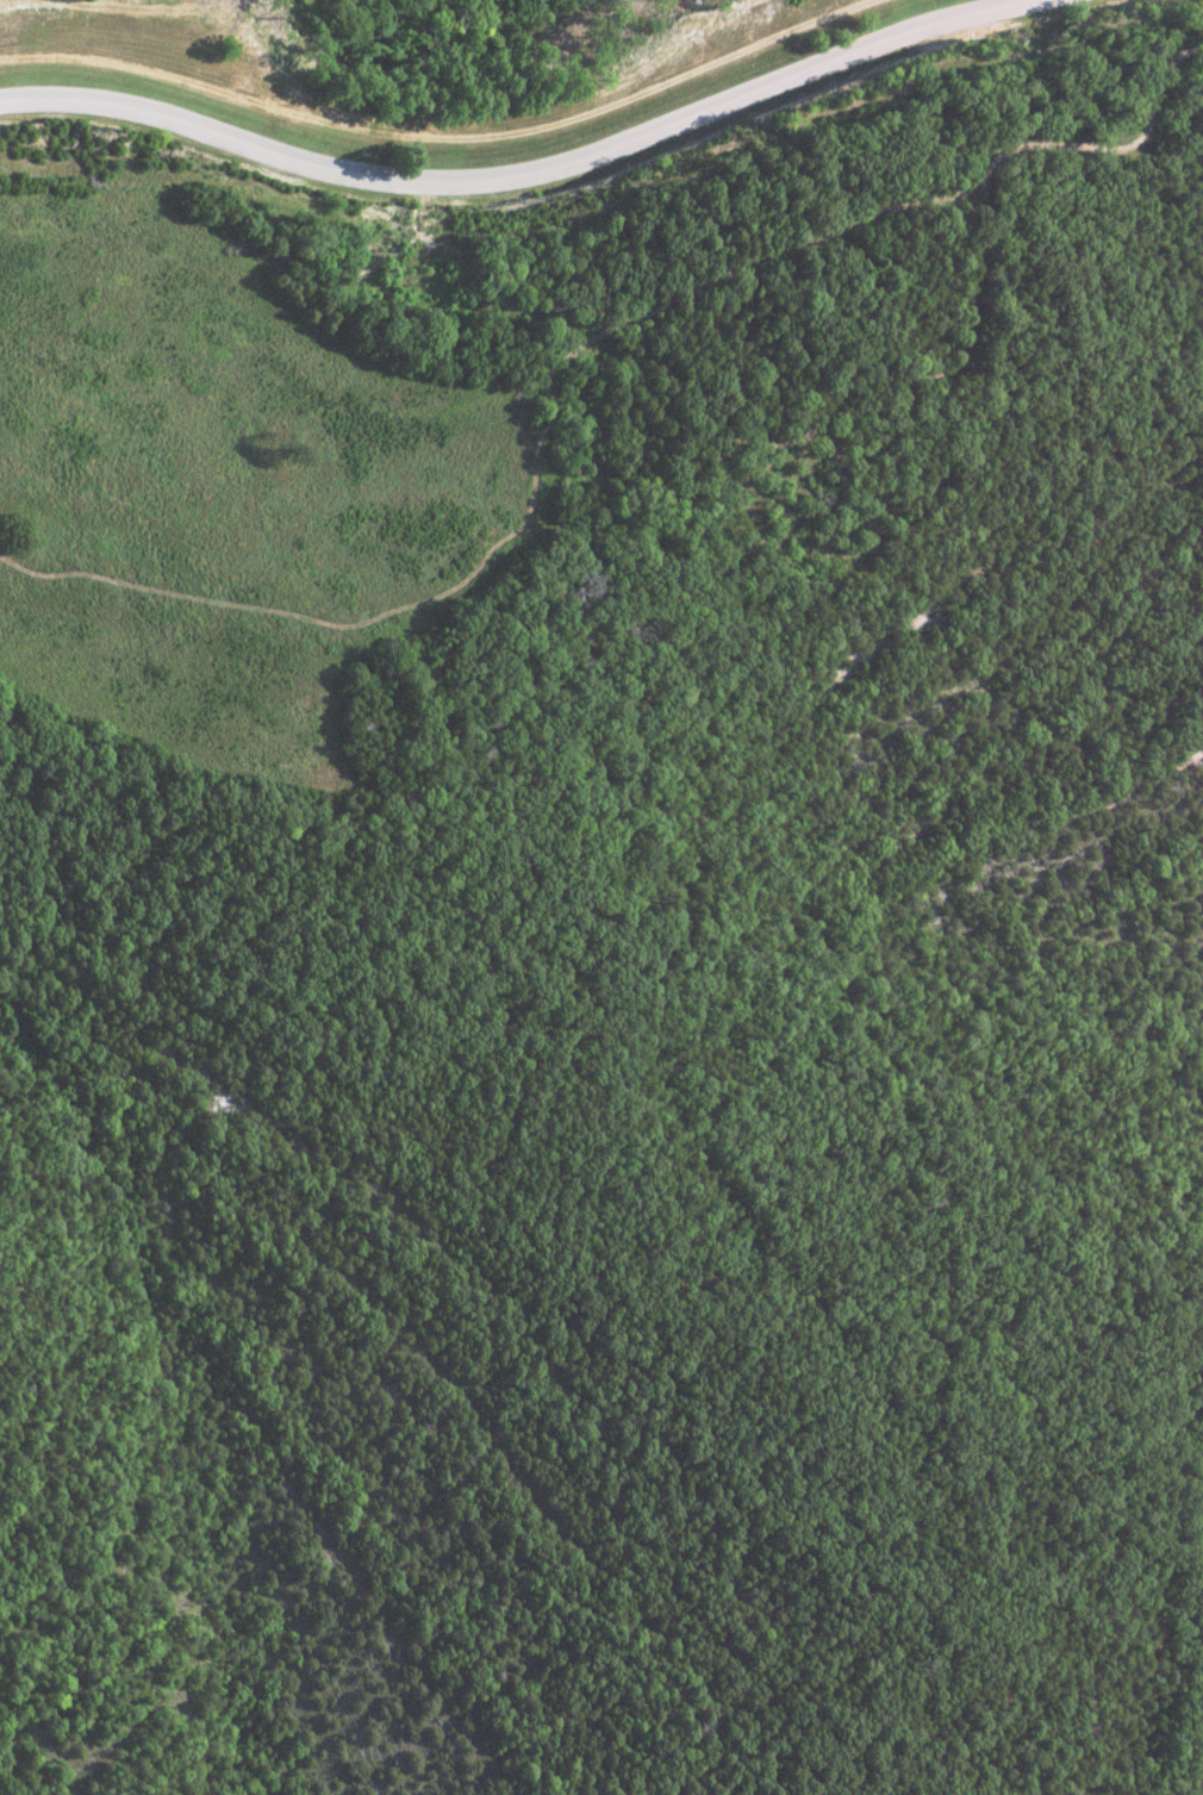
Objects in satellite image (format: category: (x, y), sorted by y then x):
road: (517, 170)

